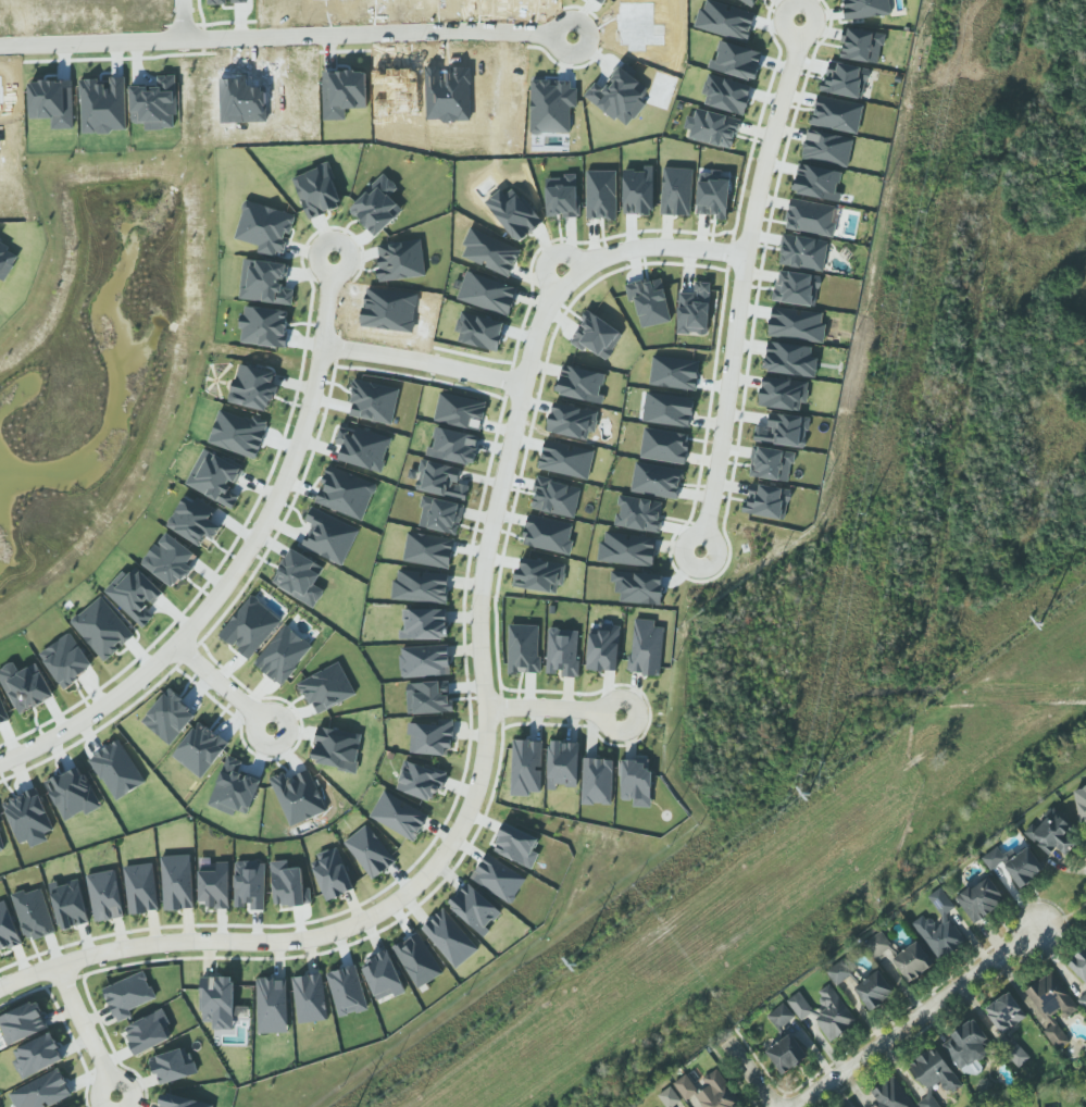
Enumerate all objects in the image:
building: (227, 1)
building: (601, 1)
building: (749, 1)
building: (865, 9)
building: (726, 20)
road: (279, 37)
building: (862, 46)
building: (737, 60)
building: (845, 80)
building: (344, 92)
building: (726, 95)
building: (619, 97)
building: (837, 114)
building: (714, 128)
road: (766, 135)
building: (827, 148)
building: (817, 182)
building: (676, 191)
building: (637, 192)
building: (601, 195)
building: (562, 196)
building: (713, 196)
building: (377, 206)
building: (514, 212)
building: (811, 217)
building: (265, 228)
building: (490, 252)
building: (802, 252)
building: (7, 260)
building: (400, 260)
building: (265, 283)
building: (797, 288)
building: (487, 294)
road: (325, 298)
building: (649, 301)
building: (695, 310)
building: (797, 324)
building: (264, 326)
building: (596, 335)
road: (422, 359)
building: (790, 359)
building: (674, 373)
building: (582, 384)
building: (253, 387)
building: (373, 401)
building: (667, 410)
building: (573, 420)
building: (784, 430)
building: (238, 434)
building: (453, 446)
building: (664, 446)
building: (771, 463)
building: (217, 478)
building: (440, 480)
building: (657, 480)
building: (556, 497)
building: (767, 501)
building: (639, 513)
building: (440, 515)
building: (548, 535)
building: (328, 537)
building: (428, 549)
building: (627, 549)
road: (484, 567)
building: (421, 586)
building: (638, 586)
road: (215, 596)
building: (135, 597)
building: (424, 624)
building: (102, 629)
building: (248, 631)
building: (603, 647)
building: (646, 647)
building: (523, 648)
building: (562, 651)
building: (283, 655)
building: (66, 660)
building: (424, 661)
road: (221, 683)
building: (326, 687)
building: (428, 698)
road: (553, 707)
building: (430, 737)
building: (337, 749)
building: (562, 764)
building: (526, 768)
building: (116, 770)
building: (421, 780)
building: (597, 781)
building: (636, 781)
building: (298, 796)
building: (1081, 804)
building: (28, 816)
building: (399, 816)
building: (1051, 833)
building: (1, 842)
building: (516, 845)
building: (370, 851)
building: (1015, 865)
building: (332, 874)
building: (498, 879)
building: (177, 882)
building: (250, 884)
building: (288, 885)
building: (214, 886)
building: (140, 888)
building: (104, 895)
building: (981, 899)
building: (68, 904)
building: (474, 908)
road: (1062, 908)
building: (34, 913)
building: (939, 928)
building: (8, 929)
building: (450, 937)
building: (877, 944)
building: (417, 960)
building: (912, 961)
building: (838, 973)
building: (383, 975)
building: (874, 990)
building: (347, 991)
building: (128, 995)
building: (310, 998)
building: (217, 1002)
building: (272, 1005)
building: (800, 1006)
building: (1051, 1006)
building: (1004, 1012)
building: (833, 1013)
building: (781, 1016)
road: (916, 1018)
building: (22, 1022)
road: (86, 1029)
building: (148, 1032)
building: (968, 1046)
building: (786, 1054)
building: (37, 1055)
building: (1018, 1055)
building: (173, 1066)
building: (934, 1071)
road: (749, 1073)
building: (685, 1086)
building: (42, 1091)
building: (716, 1092)
building: (889, 1095)
building: (182, 1102)
building: (928, 1102)

